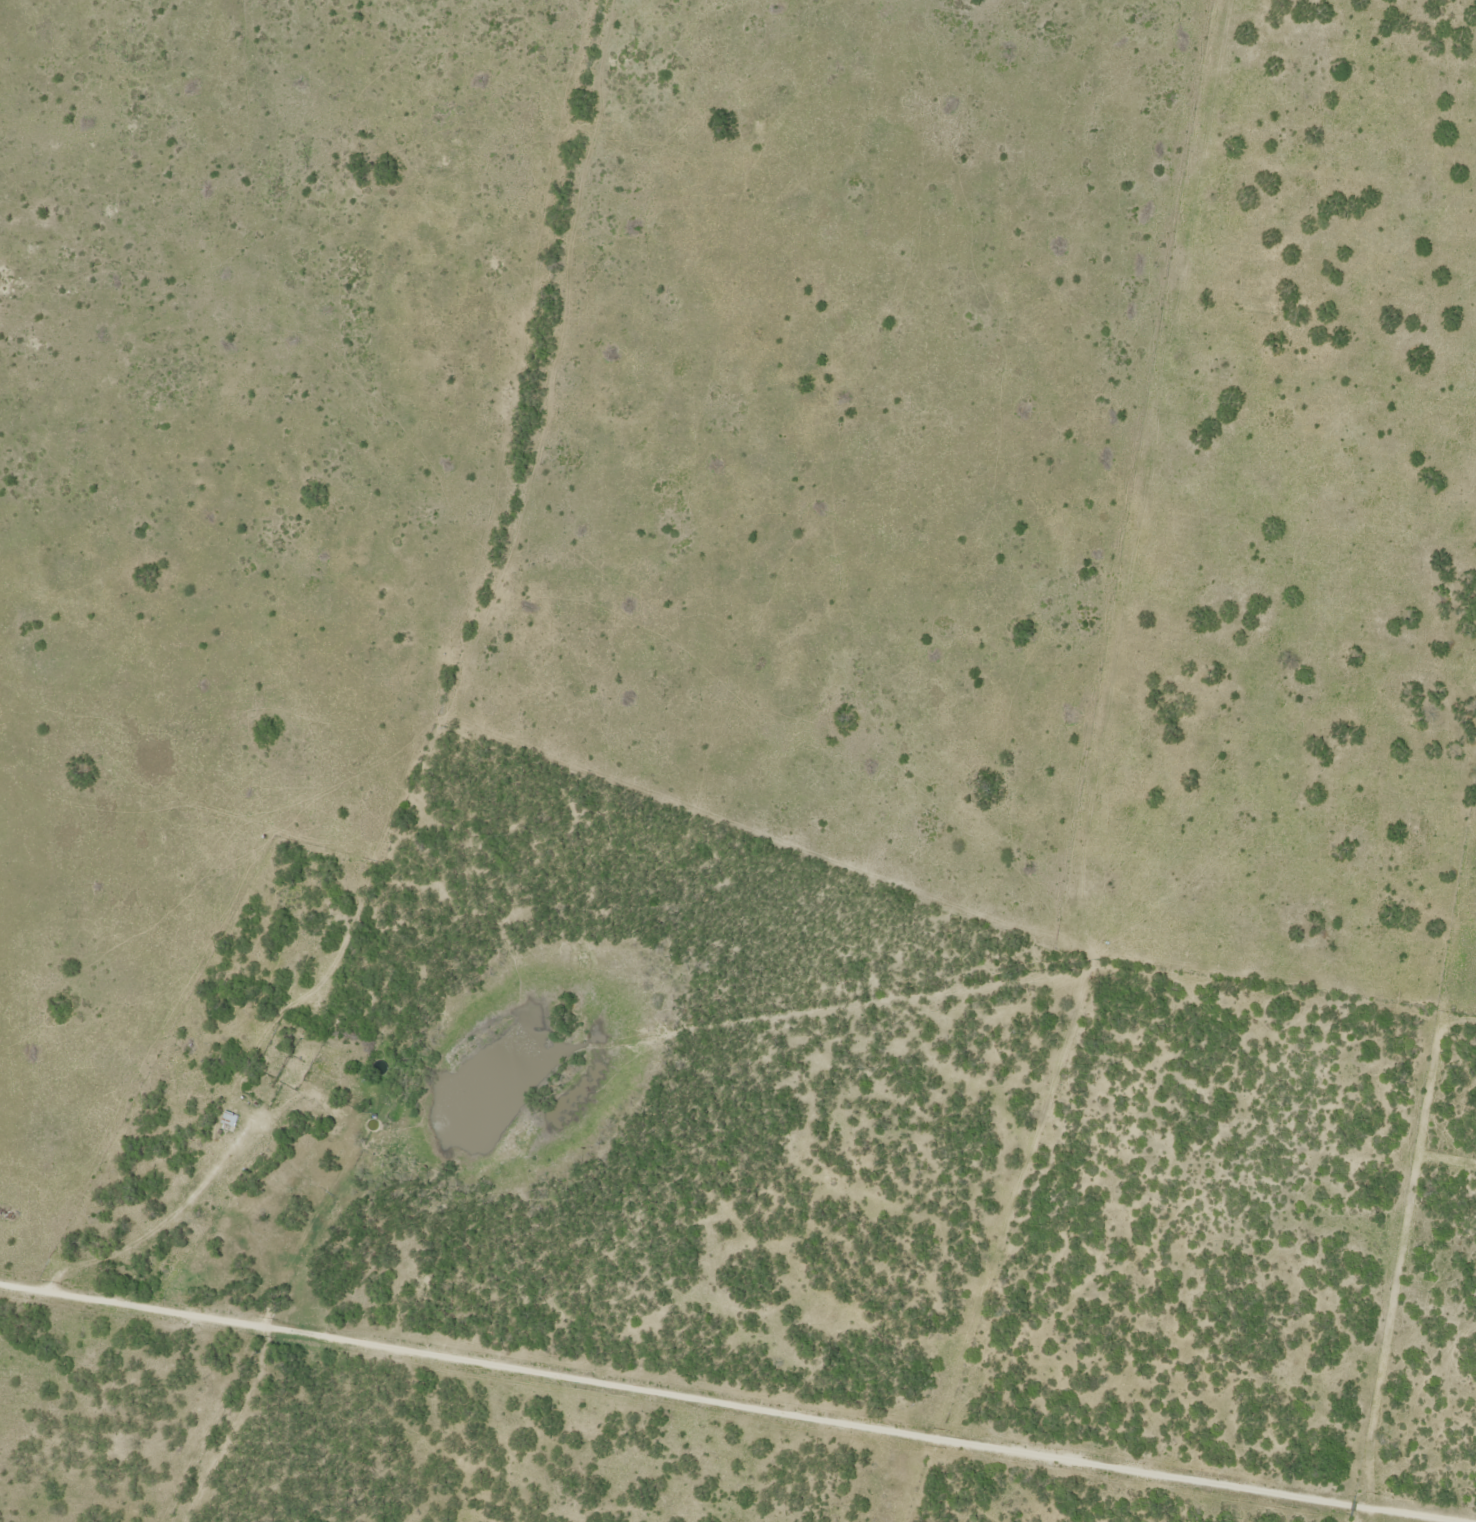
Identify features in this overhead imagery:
building: (227, 1119)

